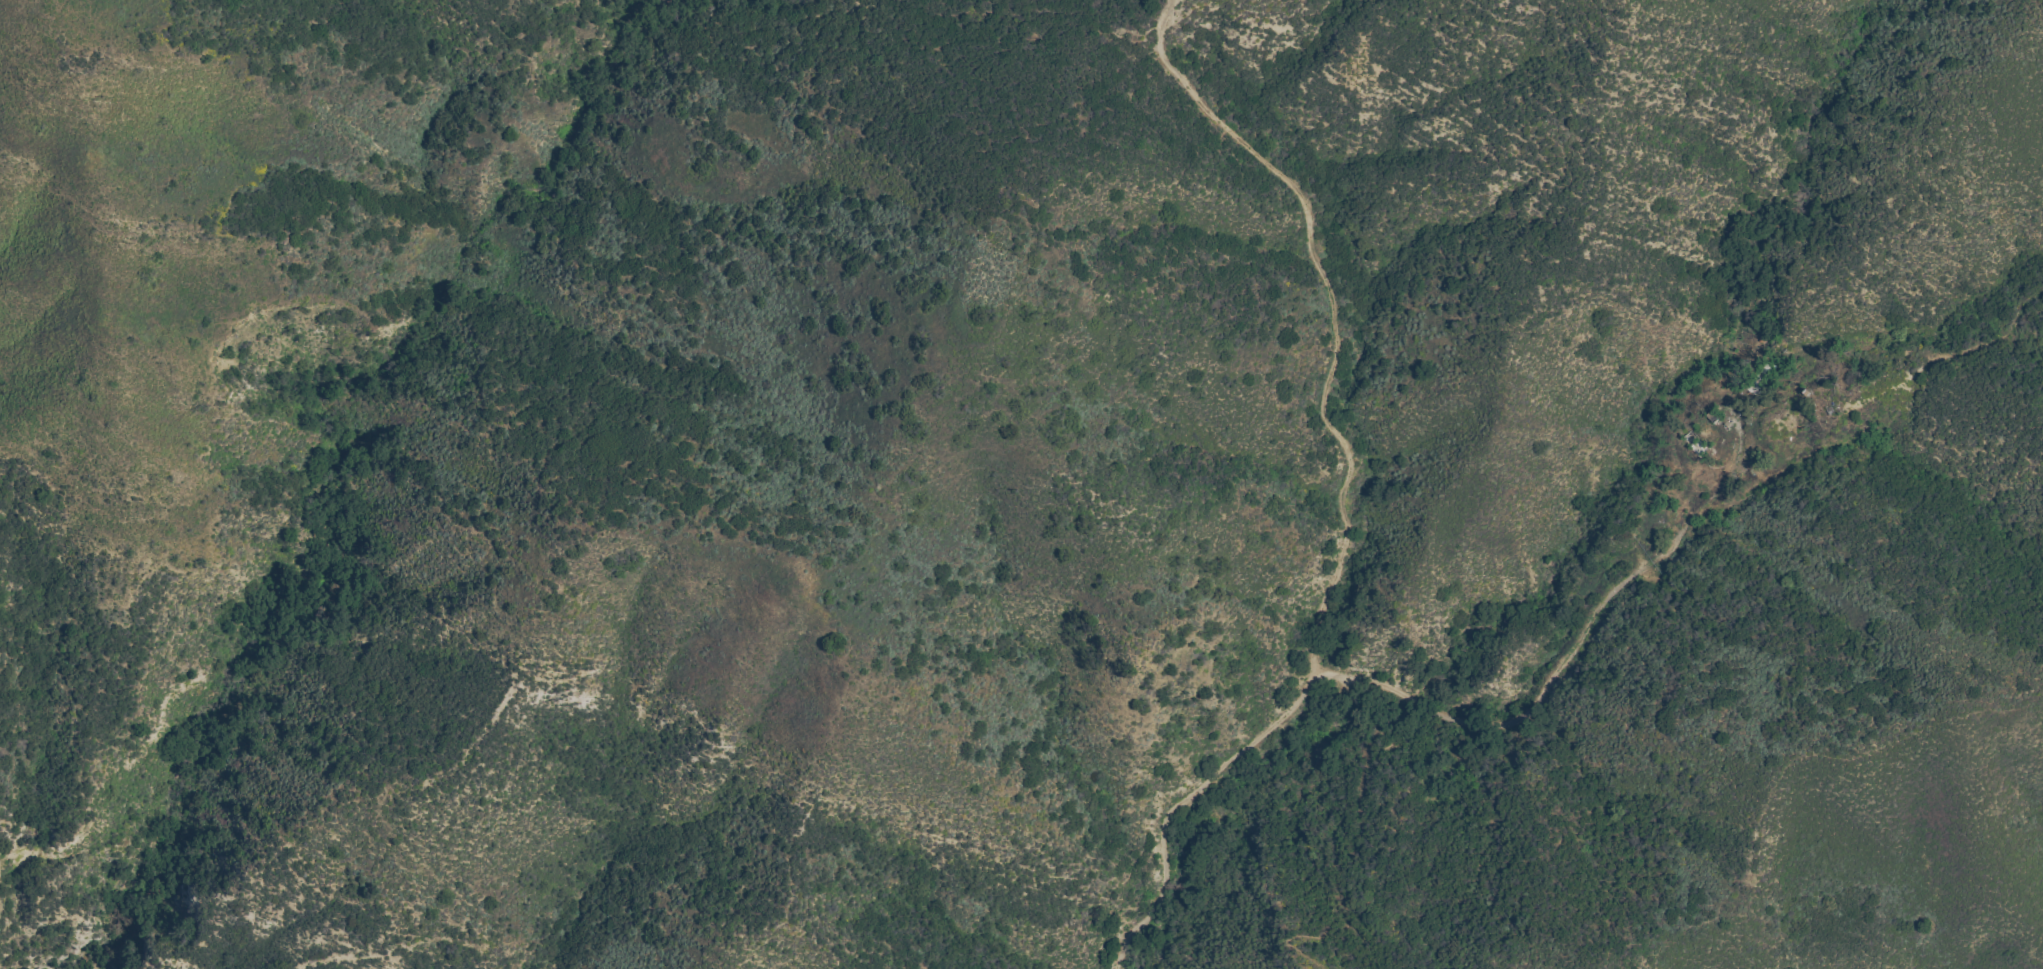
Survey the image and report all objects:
road: (1333, 321)
building: (1761, 377)
building: (1701, 449)
road: (1603, 618)
road: (1164, 825)

